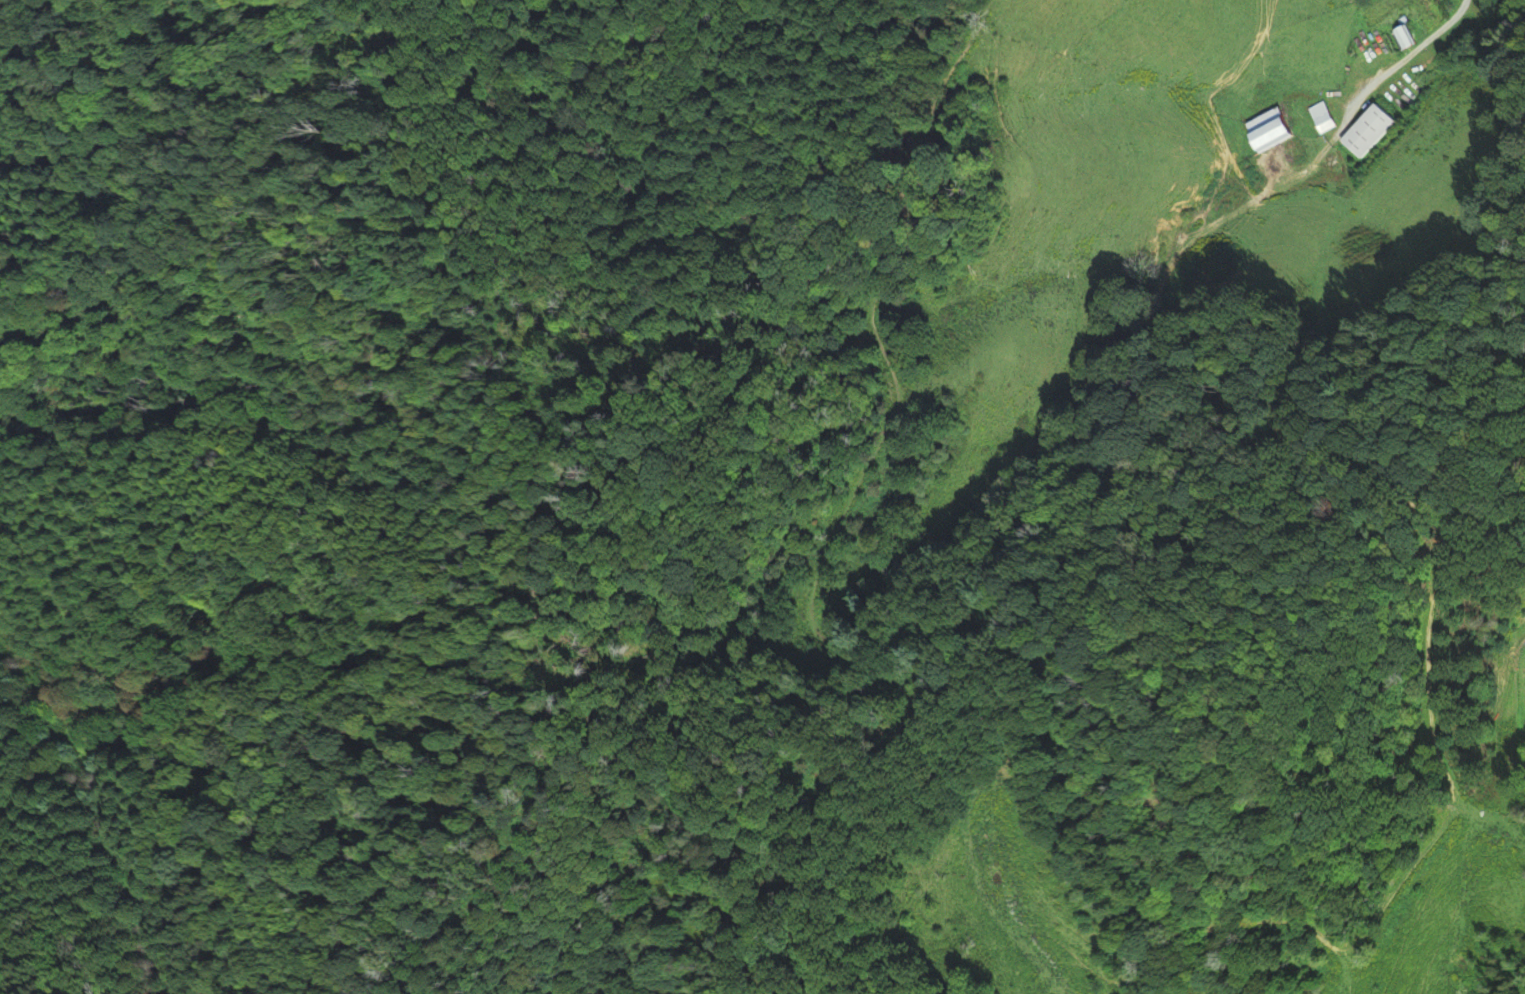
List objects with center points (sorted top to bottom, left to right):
building: (1410, 37)
road: (1427, 38)
building: (1330, 116)
building: (1284, 127)
building: (1369, 131)

